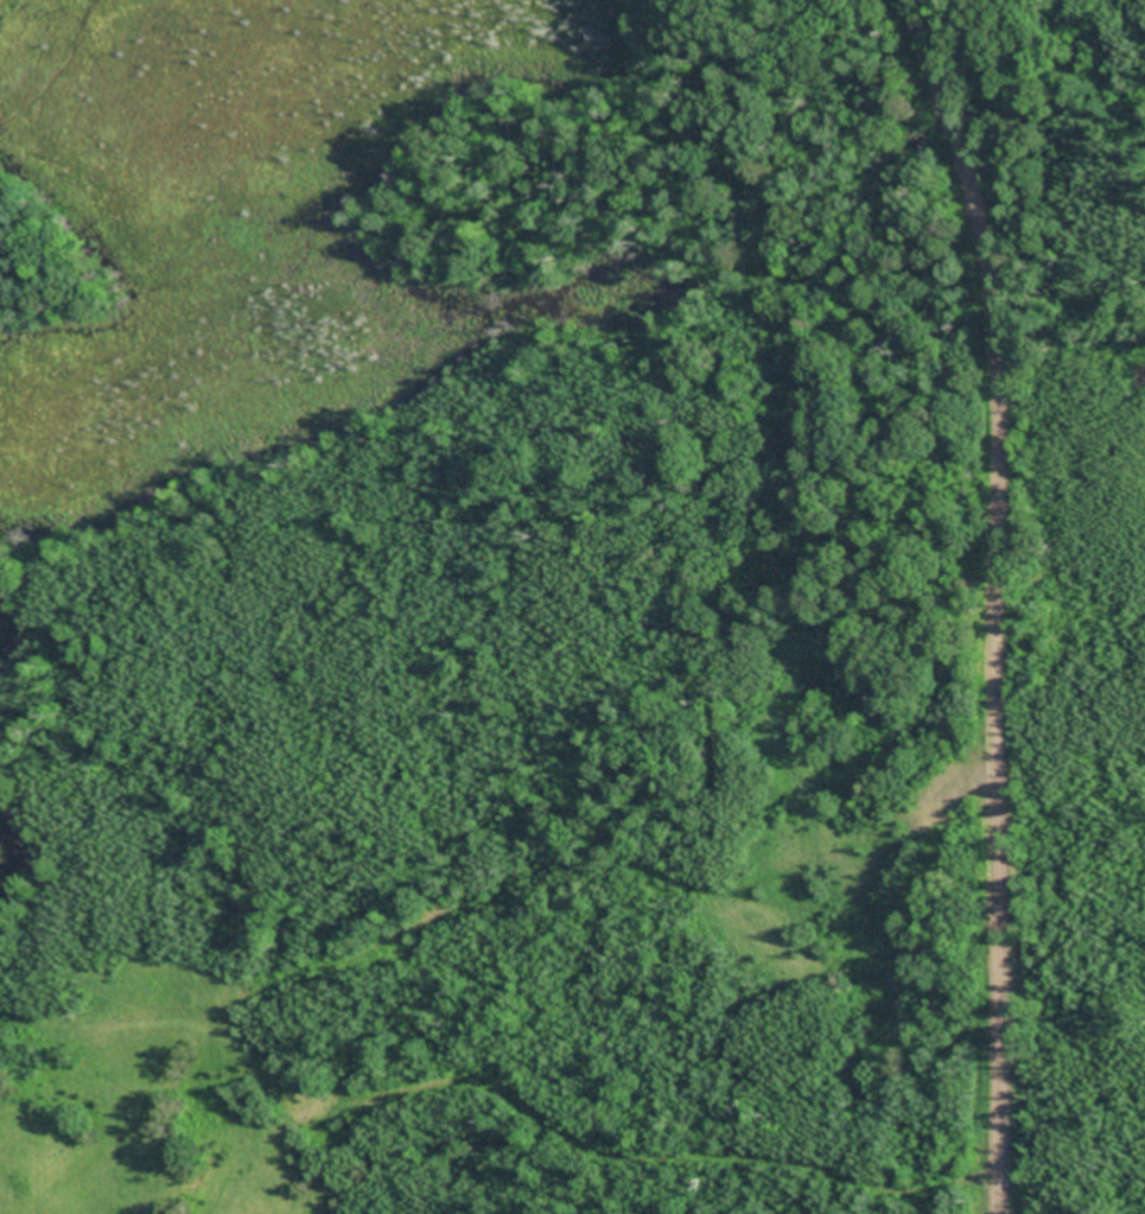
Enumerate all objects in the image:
road: (992, 600)

